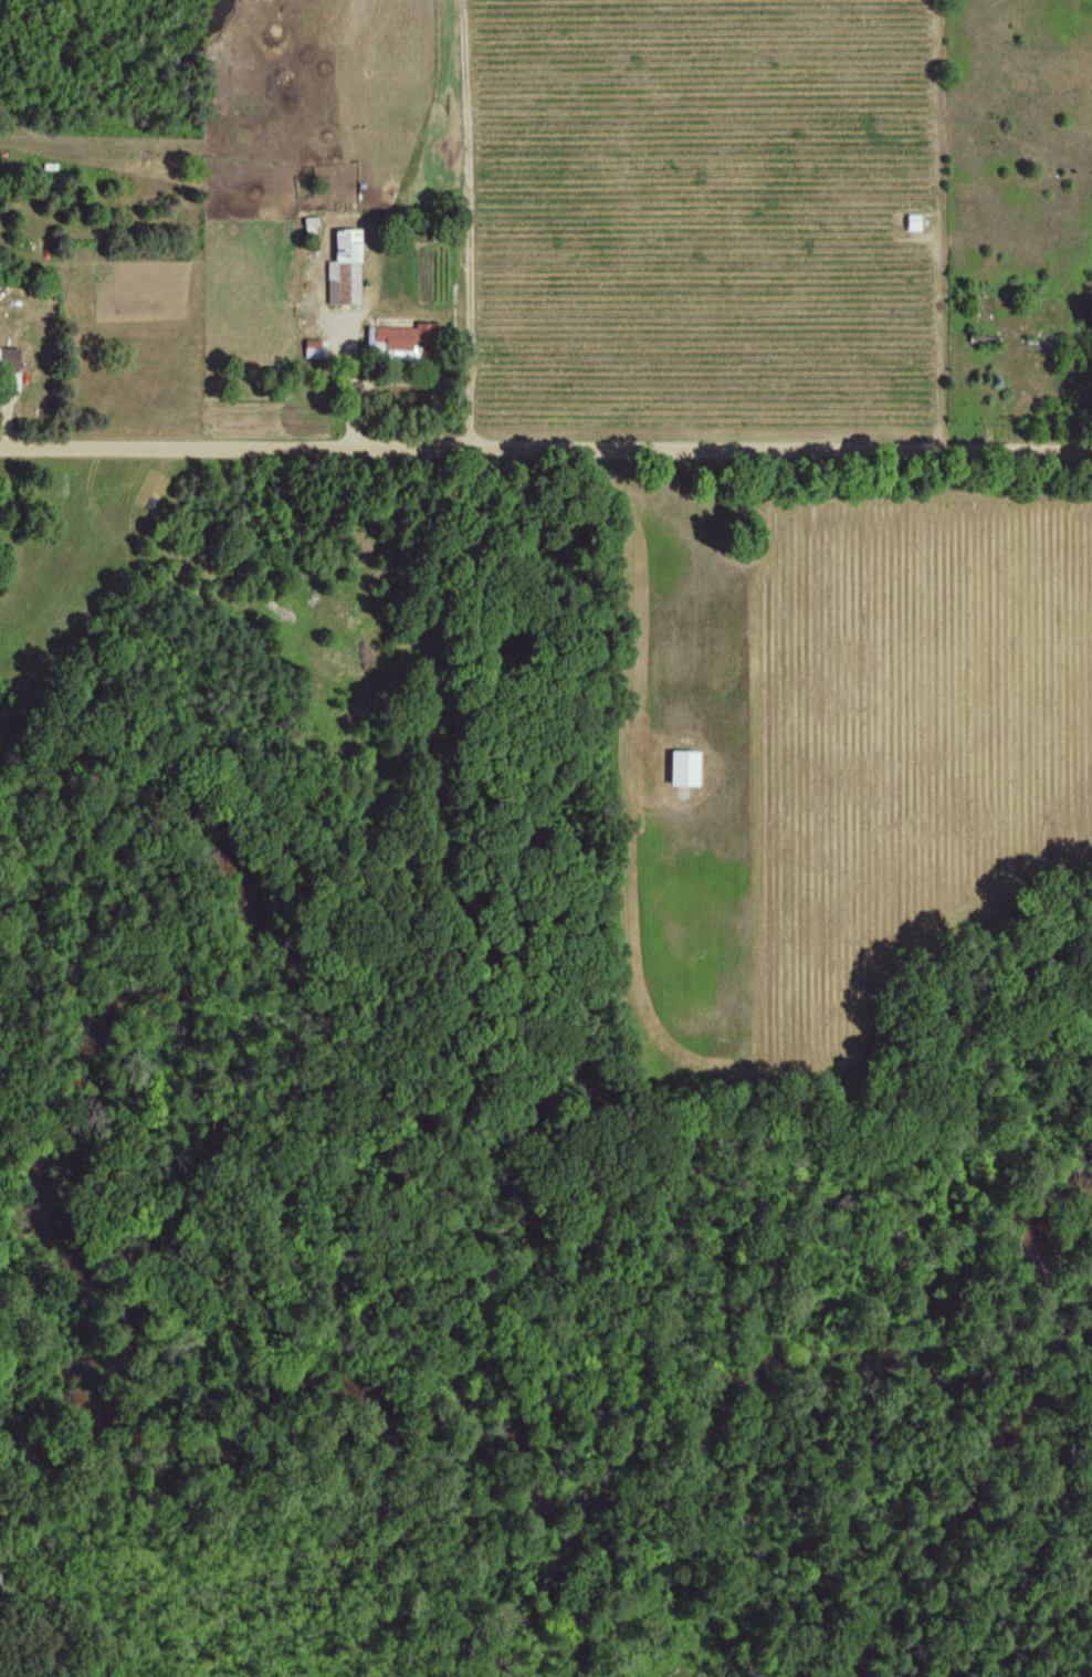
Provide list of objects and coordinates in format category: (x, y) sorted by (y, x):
building: (911, 220)
building: (343, 268)
building: (397, 338)
building: (8, 358)
road: (349, 384)
road: (546, 446)
building: (681, 767)

